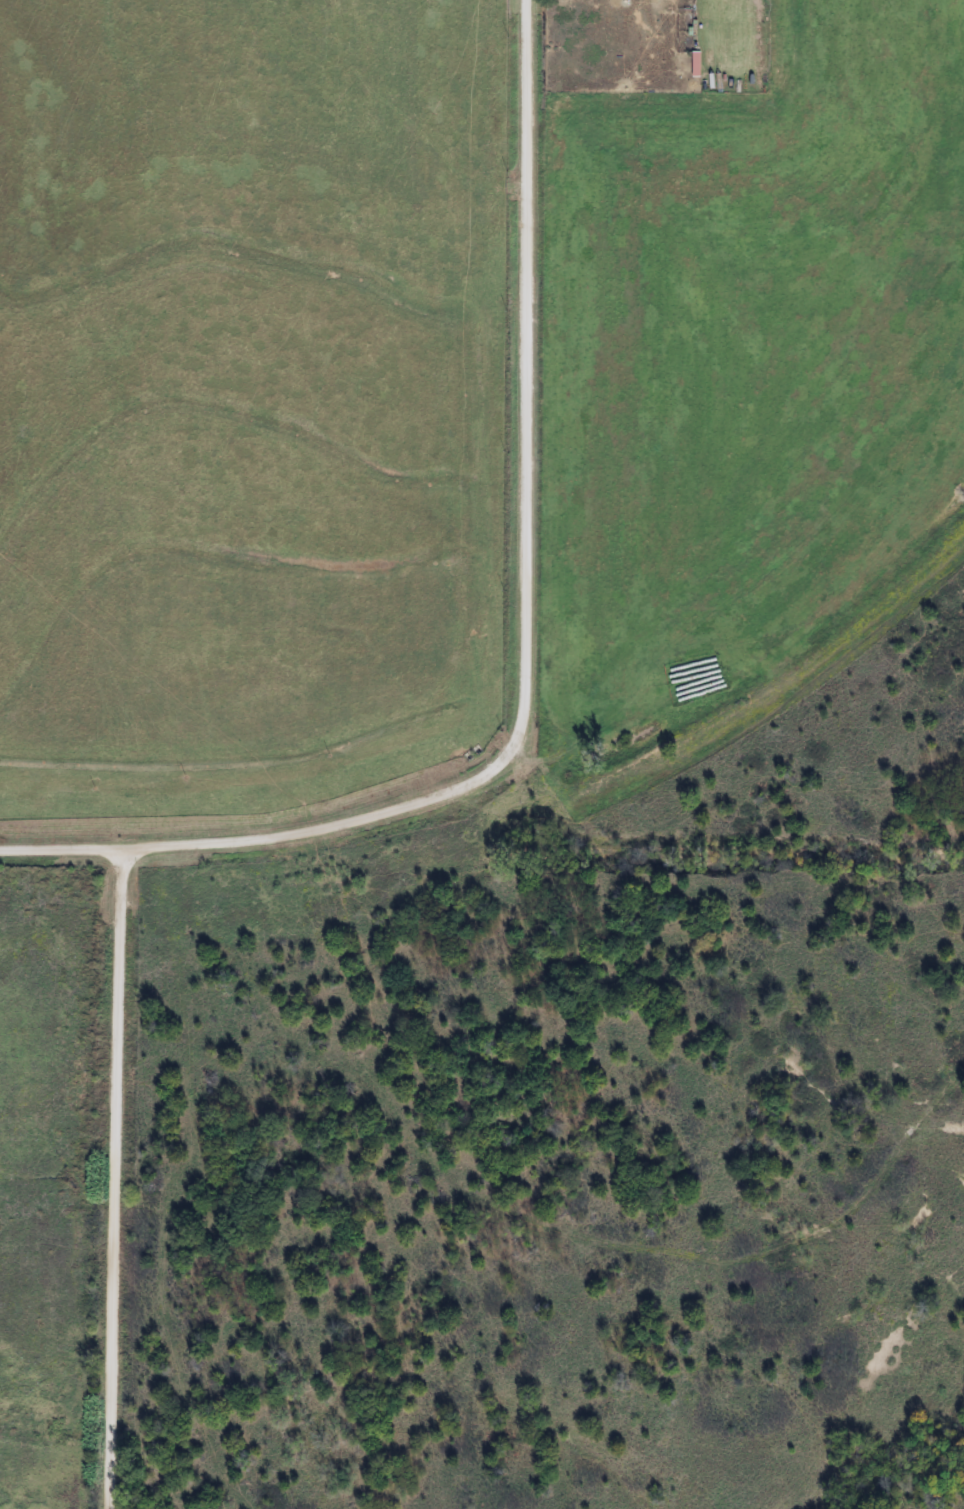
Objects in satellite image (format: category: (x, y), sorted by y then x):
building: (694, 65)
road: (530, 580)
road: (64, 848)
road: (121, 1177)

